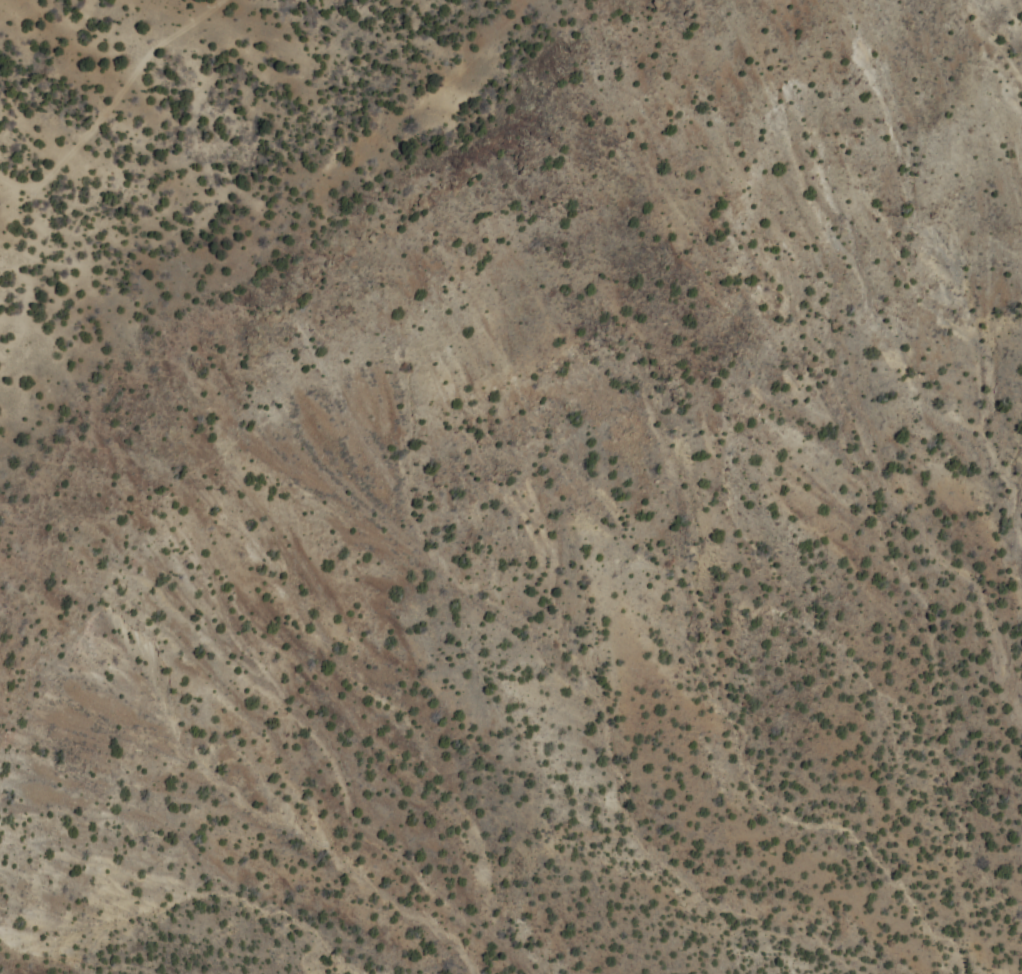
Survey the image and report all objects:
road: (114, 96)

